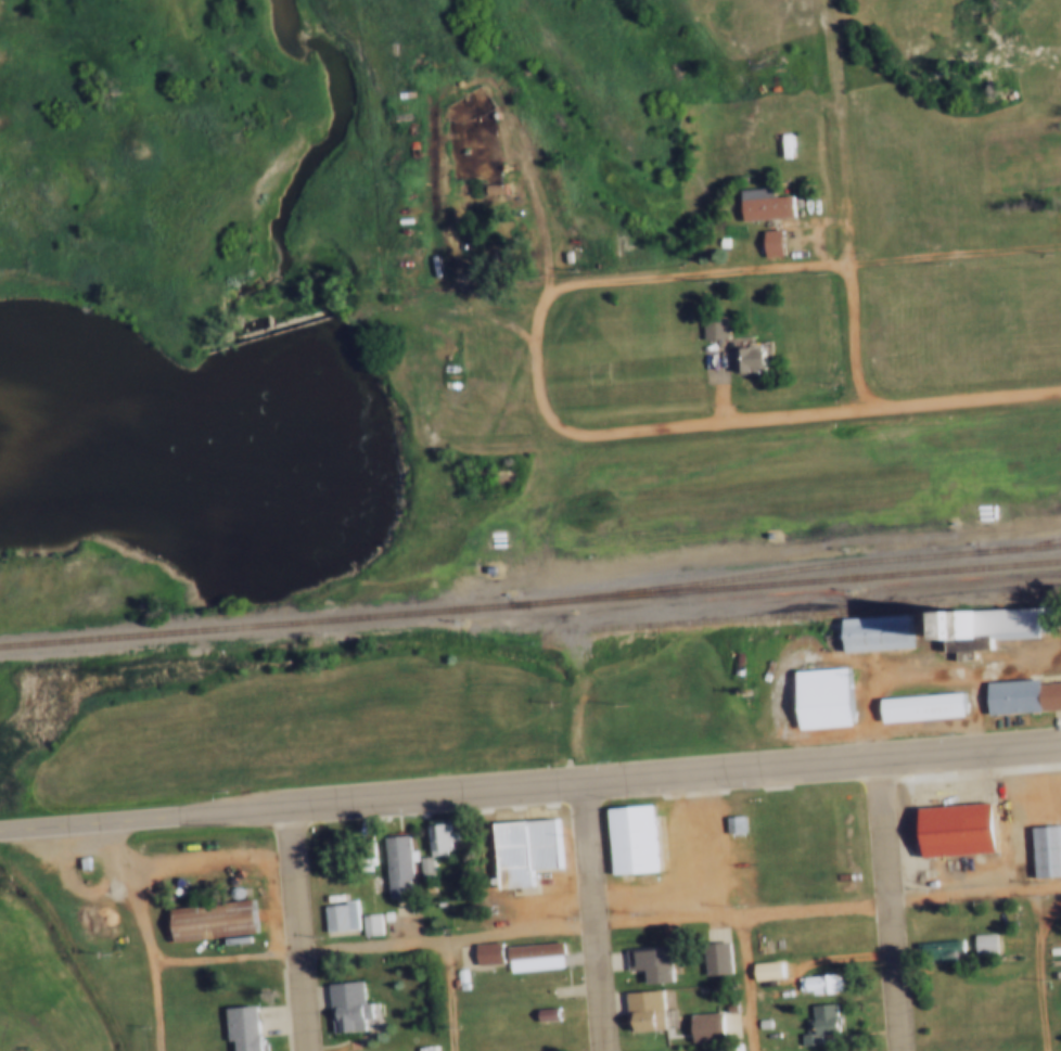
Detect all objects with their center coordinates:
road: (847, 181)
building: (1054, 185)
building: (498, 188)
building: (763, 207)
building: (767, 242)
road: (727, 269)
building: (708, 328)
dam: (264, 330)
road: (858, 333)
building: (743, 359)
road: (830, 410)
railway: (1051, 543)
railway: (806, 564)
railway: (529, 601)
railway: (822, 615)
building: (1007, 623)
building: (954, 630)
building: (872, 632)
building: (1020, 695)
building: (818, 697)
building: (918, 706)
road: (529, 783)
building: (845, 813)
building: (729, 823)
building: (953, 830)
building: (434, 836)
building: (630, 843)
building: (366, 850)
building: (521, 851)
building: (1044, 851)
building: (81, 863)
building: (421, 867)
building: (395, 868)
building: (231, 893)
silo: (231, 893)
building: (331, 899)
road: (891, 901)
building: (434, 903)
road: (595, 914)
building: (381, 915)
building: (336, 918)
building: (210, 921)
building: (366, 925)
road: (299, 927)
road: (597, 928)
road: (140, 935)
building: (977, 941)
building: (988, 943)
building: (931, 949)
building: (484, 952)
building: (529, 956)
building: (711, 959)
building: (648, 962)
building: (762, 967)
road: (1041, 967)
building: (457, 975)
building: (815, 982)
road: (749, 983)
road: (450, 996)
building: (344, 1008)
building: (639, 1009)
building: (542, 1012)
building: (757, 1021)
building: (813, 1023)
building: (701, 1026)
building: (241, 1028)
building: (534, 1038)

